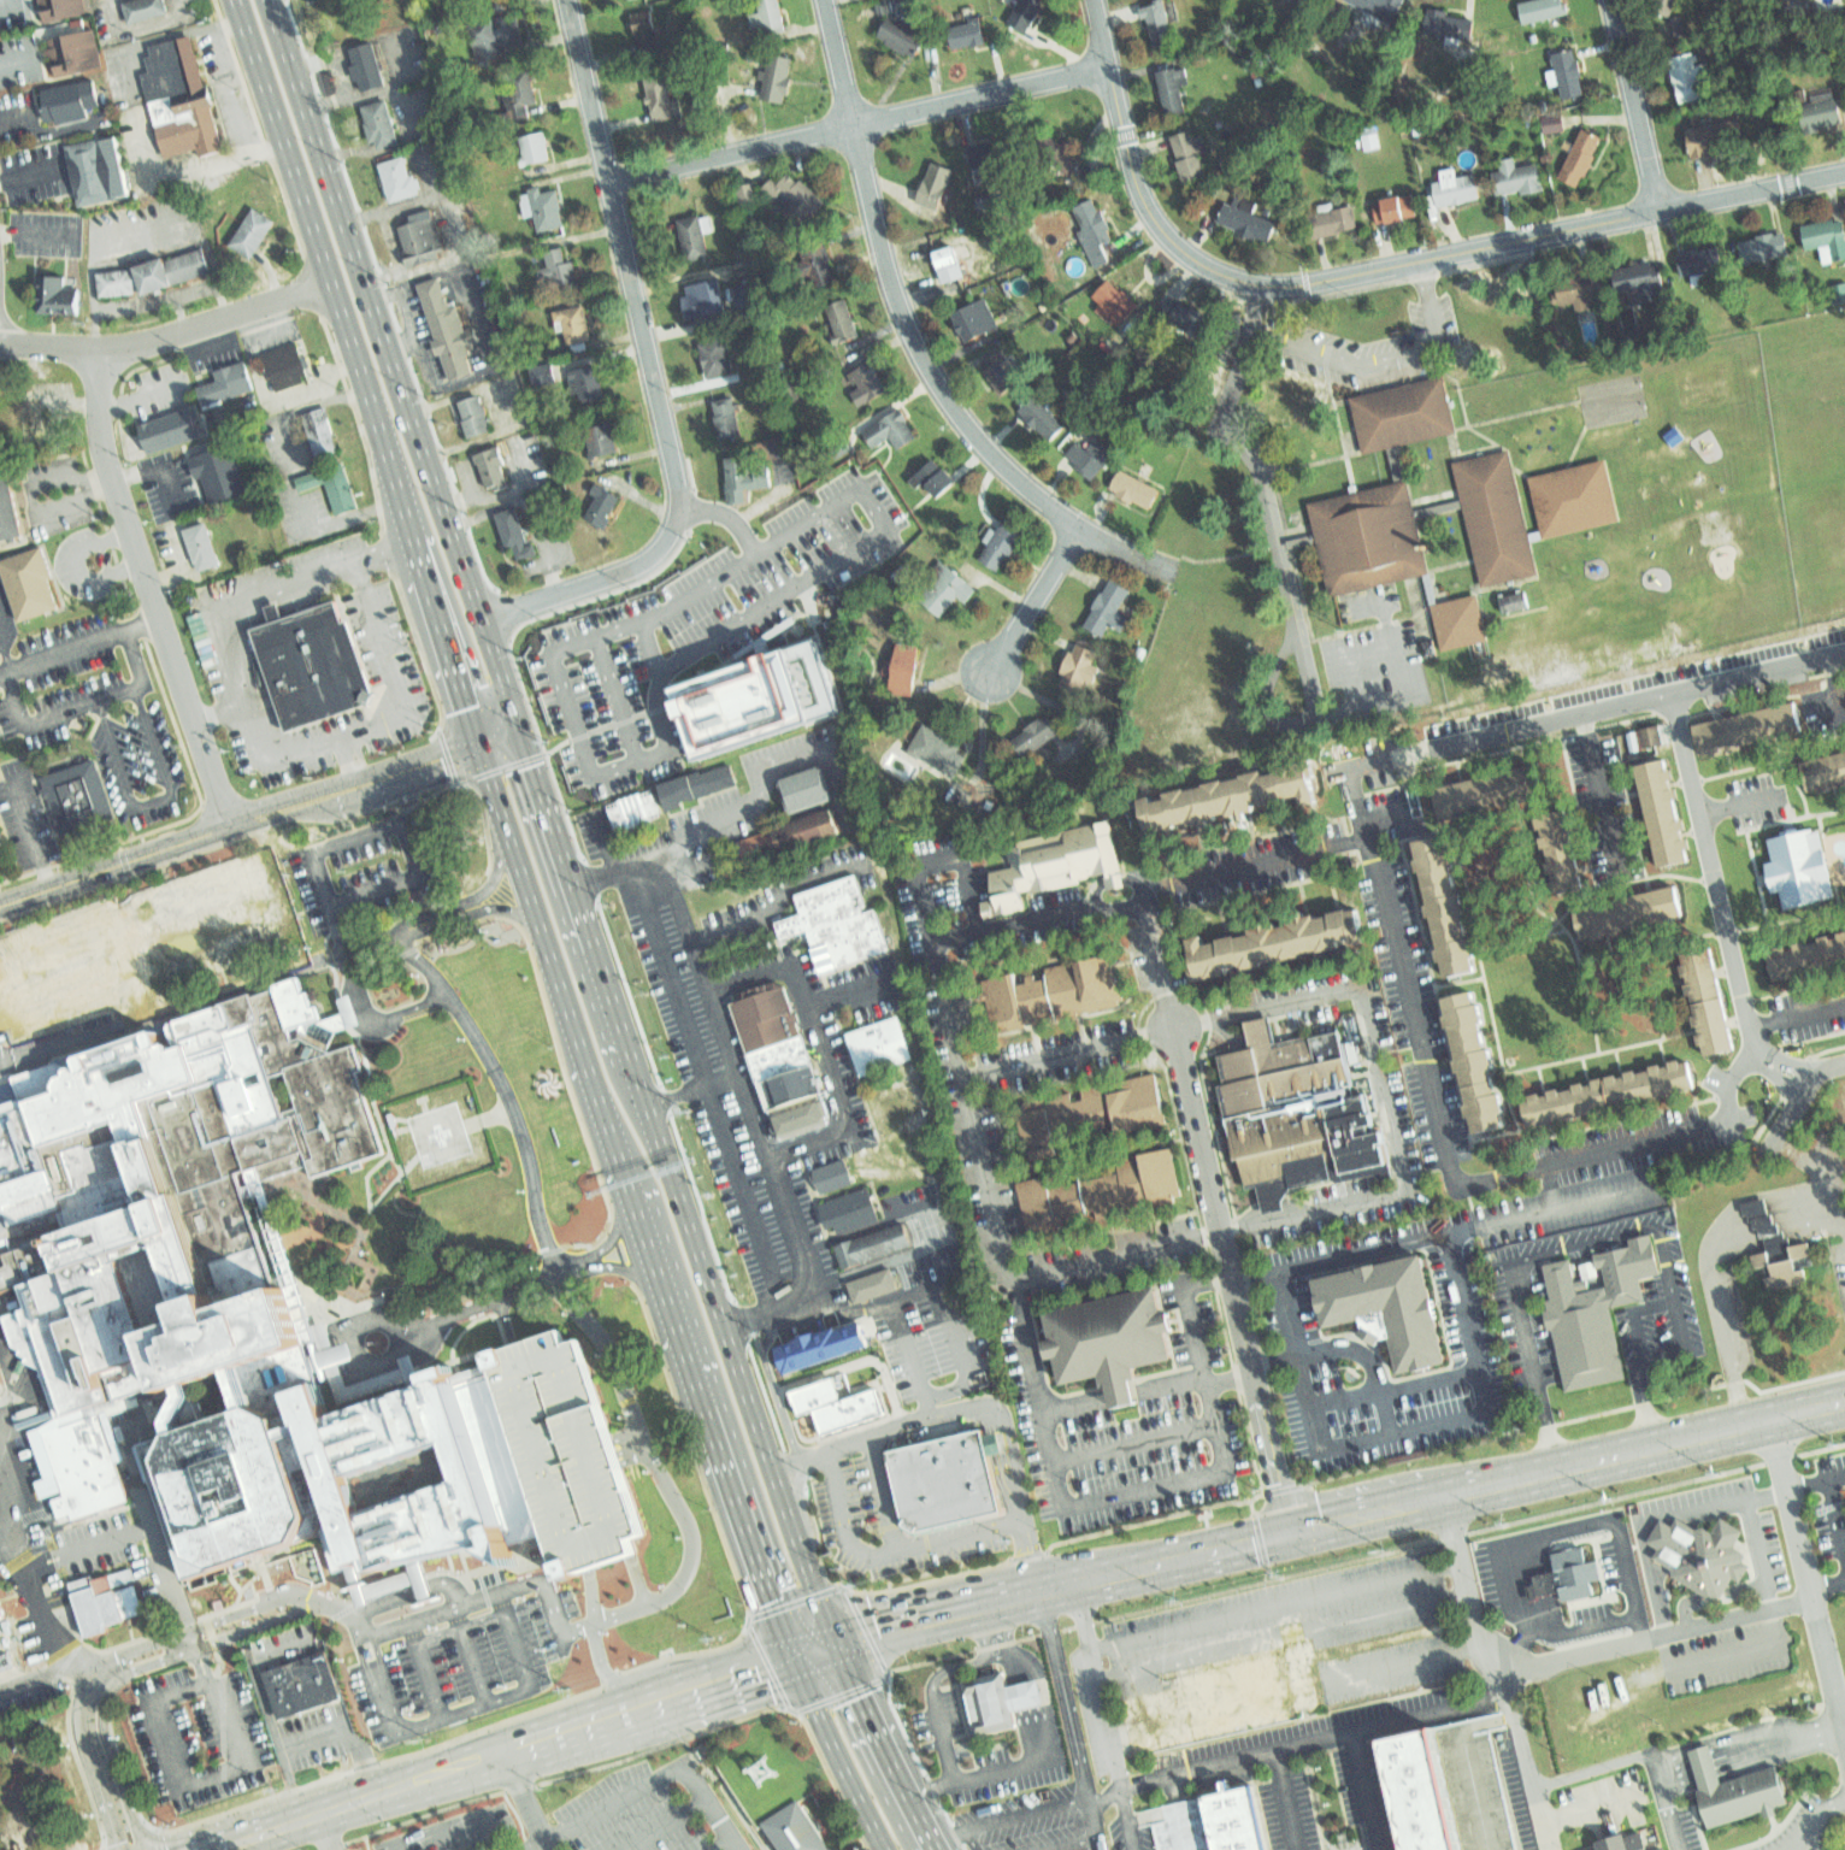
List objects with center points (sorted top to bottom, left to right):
road: (7, 1)
building: (626, 1)
building: (906, 5)
building: (1666, 6)
building: (1378, 8)
building: (1543, 8)
building: (58, 10)
building: (142, 11)
building: (1030, 14)
building: (772, 16)
building: (1449, 24)
building: (1159, 25)
building: (494, 33)
building: (644, 35)
building: (967, 35)
building: (903, 40)
building: (70, 57)
road: (14, 60)
building: (365, 64)
road: (346, 73)
building: (1569, 77)
building: (773, 79)
building: (1685, 79)
road: (406, 84)
building: (520, 84)
building: (1171, 93)
building: (179, 98)
building: (662, 101)
building: (71, 104)
road: (1638, 105)
road: (16, 114)
building: (1819, 116)
road: (859, 120)
building: (381, 122)
building: (1552, 123)
building: (1713, 131)
building: (532, 147)
road: (388, 148)
building: (992, 153)
building: (1072, 159)
building: (1191, 159)
building: (1585, 160)
building: (101, 171)
building: (397, 175)
road: (31, 176)
building: (1517, 178)
building: (933, 190)
building: (748, 193)
building: (1457, 193)
building: (796, 195)
road: (418, 202)
building: (990, 204)
building: (546, 208)
building: (1398, 212)
building: (1339, 223)
building: (1248, 224)
building: (252, 228)
building: (418, 232)
building: (1092, 235)
road: (36, 236)
building: (1828, 238)
building: (692, 240)
road: (90, 246)
building: (1767, 247)
road: (436, 261)
road: (324, 263)
building: (819, 264)
building: (1703, 265)
building: (561, 269)
road: (1379, 270)
building: (949, 271)
building: (154, 272)
building: (1643, 279)
building: (1839, 291)
building: (59, 293)
building: (1576, 293)
building: (705, 297)
building: (745, 299)
building: (1114, 307)
building: (1186, 310)
building: (843, 318)
building: (572, 319)
building: (975, 319)
building: (443, 325)
road: (272, 334)
road: (169, 335)
road: (919, 343)
road: (211, 347)
road: (402, 348)
building: (715, 357)
road: (1380, 359)
building: (284, 360)
road: (387, 364)
road: (653, 370)
building: (543, 373)
building: (1001, 373)
building: (228, 382)
road: (453, 382)
building: (586, 382)
building: (865, 384)
road: (141, 401)
road: (511, 401)
building: (474, 413)
building: (1403, 413)
building: (1042, 414)
building: (729, 419)
building: (29, 420)
building: (171, 425)
building: (890, 430)
building: (601, 441)
building: (1091, 452)
building: (328, 461)
building: (490, 466)
road: (157, 467)
building: (222, 467)
building: (930, 473)
building: (738, 476)
building: (1136, 488)
road: (31, 489)
road: (506, 490)
road: (776, 493)
building: (1574, 493)
building: (10, 501)
building: (603, 502)
road: (460, 506)
building: (1497, 514)
road: (302, 524)
building: (514, 531)
building: (1371, 531)
building: (1001, 543)
building: (205, 546)
road: (546, 546)
road: (383, 549)
road: (415, 553)
road: (178, 565)
road: (69, 572)
building: (31, 583)
road: (1292, 583)
road: (152, 589)
building: (944, 589)
road: (1032, 599)
building: (1511, 602)
road: (1381, 606)
building: (1109, 608)
building: (1460, 620)
road: (79, 644)
road: (647, 647)
road: (5, 654)
road: (449, 660)
building: (316, 661)
building: (1081, 664)
building: (906, 667)
road: (659, 670)
road: (1757, 673)
building: (759, 693)
road: (614, 700)
road: (84, 705)
road: (222, 709)
building: (1745, 720)
traffic signals: (518, 727)
road: (496, 735)
building: (1035, 736)
building: (1644, 737)
building: (941, 747)
road: (349, 762)
road: (269, 766)
building: (1826, 767)
building: (696, 782)
building: (807, 785)
building: (1483, 786)
road: (490, 788)
building: (1230, 793)
road: (1598, 793)
building: (77, 794)
road: (152, 800)
road: (756, 801)
road: (1737, 801)
road: (19, 803)
building: (635, 807)
building: (1673, 807)
road: (237, 827)
building: (1, 831)
road: (389, 831)
building: (791, 833)
building: (1558, 842)
road: (606, 843)
building: (1053, 862)
road: (1272, 862)
building: (1802, 865)
road: (484, 877)
road: (567, 890)
road: (185, 895)
building: (1449, 896)
road: (778, 897)
road: (1720, 903)
road: (499, 908)
building: (1622, 913)
building: (839, 920)
road: (87, 924)
building: (217, 935)
building: (1275, 939)
road: (1399, 945)
road: (549, 947)
building: (1808, 953)
building: (1054, 989)
road: (142, 994)
road: (61, 996)
road: (849, 996)
building: (1710, 998)
road: (198, 1000)
road: (1797, 1015)
road: (375, 1020)
road: (820, 1043)
building: (777, 1044)
building: (882, 1044)
road: (1071, 1051)
building: (1474, 1060)
road: (741, 1077)
road: (1728, 1083)
road: (367, 1085)
road: (706, 1089)
building: (1621, 1089)
road: (1389, 1090)
building: (1137, 1094)
road: (1802, 1096)
building: (1297, 1106)
road: (968, 1107)
building: (1048, 1112)
road: (488, 1117)
building: (798, 1117)
road: (611, 1129)
helipad: (438, 1133)
airport: (440, 1135)
road: (524, 1148)
road: (371, 1169)
building: (154, 1172)
building: (835, 1172)
building: (1153, 1174)
road: (1551, 1184)
building: (1047, 1197)
building: (849, 1203)
road: (1222, 1218)
road: (873, 1221)
road: (1609, 1232)
road: (356, 1238)
road: (603, 1241)
building: (876, 1242)
road: (1715, 1251)
building: (1786, 1261)
road: (614, 1266)
building: (871, 1283)
building: (1593, 1307)
building: (1381, 1308)
building: (1112, 1337)
road: (727, 1342)
building: (826, 1343)
road: (1298, 1344)
road: (1351, 1349)
road: (358, 1353)
road: (1202, 1373)
road: (966, 1377)
road: (1397, 1386)
building: (0, 1387)
building: (831, 1400)
road: (930, 1406)
road: (971, 1406)
road: (714, 1418)
road: (1130, 1443)
building: (371, 1448)
building: (75, 1461)
road: (658, 1471)
building: (943, 1478)
road: (1814, 1483)
road: (882, 1492)
road: (1110, 1496)
road: (1835, 1520)
road: (1319, 1521)
road: (6, 1525)
traffic signals: (1292, 1528)
road: (1555, 1532)
road: (892, 1550)
building: (1702, 1550)
road: (19, 1568)
building: (1575, 1572)
road: (1805, 1583)
road: (1826, 1586)
road: (500, 1590)
road: (295, 1591)
road: (1713, 1593)
building: (108, 1595)
road: (1275, 1604)
building: (1, 1614)
road: (399, 1625)
road: (997, 1626)
road: (1585, 1626)
traffic signals: (827, 1634)
road: (1655, 1636)
road: (1283, 1637)
road: (1666, 1650)
road: (474, 1652)
road: (1402, 1658)
road: (204, 1661)
road: (426, 1669)
road: (1498, 1669)
road: (41, 1674)
road: (933, 1684)
building: (299, 1686)
building: (1251, 1690)
building: (995, 1697)
road: (1044, 1699)
road: (1026, 1707)
road: (1036, 1707)
road: (1016, 1709)
road: (461, 1710)
road: (1104, 1714)
road: (1068, 1718)
road: (273, 1734)
road: (1314, 1740)
road: (1722, 1740)
road: (876, 1743)
road: (493, 1744)
road: (837, 1749)
road: (1747, 1749)
road: (1469, 1762)
road: (1751, 1763)
road: (1591, 1768)
road: (979, 1773)
road: (658, 1777)
building: (1734, 1786)
building: (1417, 1787)
road: (1366, 1791)
road: (525, 1798)
road: (1104, 1798)
road: (1663, 1798)
road: (1286, 1799)
road: (1590, 1807)
road: (1024, 1813)
road: (1815, 1821)
building: (1208, 1822)
building: (29, 1824)
road: (1605, 1827)
road: (326, 1828)
building: (791, 1828)
road: (945, 1839)
road: (968, 1839)
building: (1627, 1843)
road: (1071, 1844)
road: (548, 1848)

